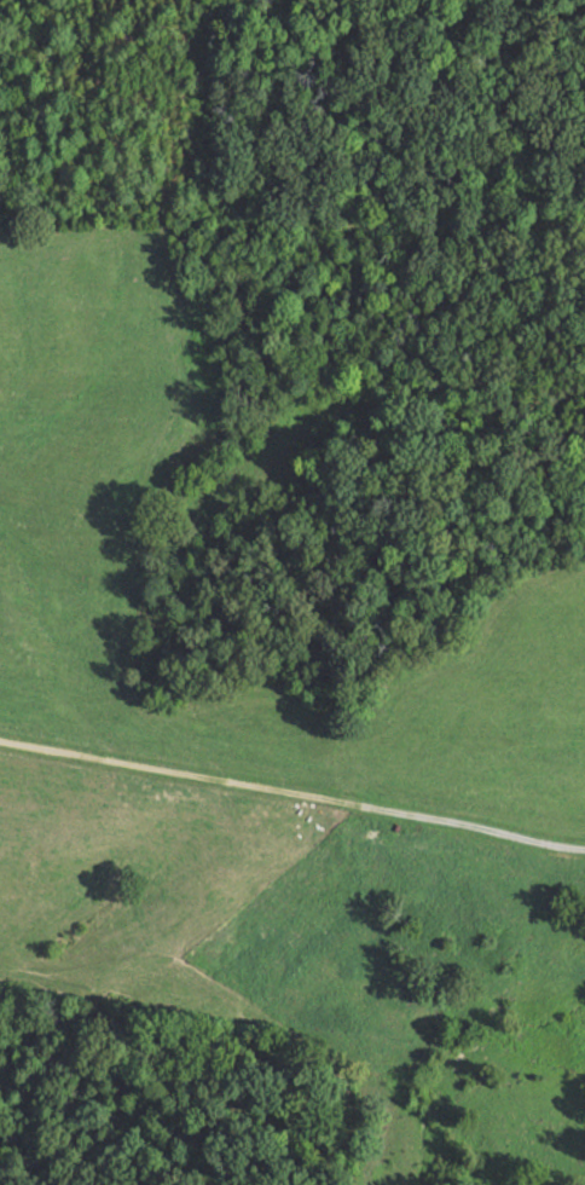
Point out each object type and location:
road: (292, 813)

